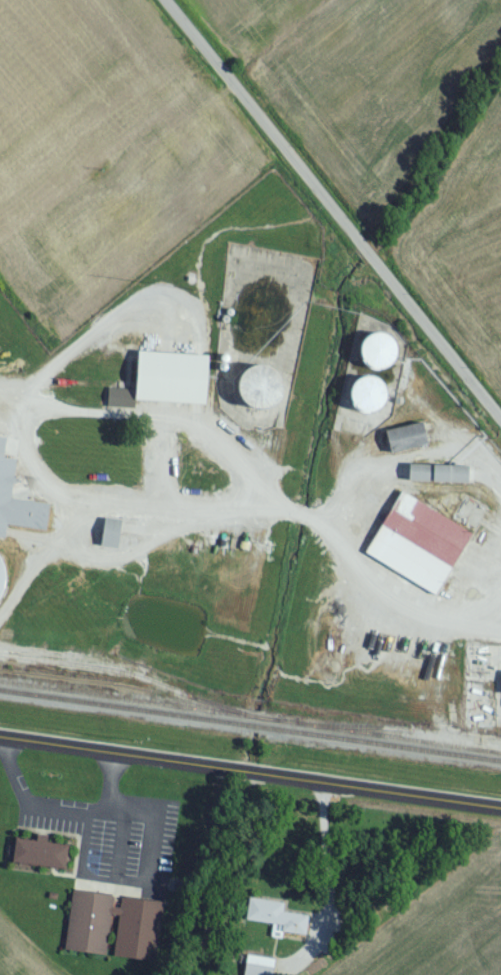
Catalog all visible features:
road: (334, 214)
building: (381, 357)
building: (175, 384)
building: (263, 393)
building: (375, 399)
building: (412, 444)
road: (491, 463)
road: (321, 529)
building: (116, 540)
building: (426, 545)
road: (495, 616)
building: (482, 692)
railway: (250, 734)
road: (250, 779)
road: (61, 810)
road: (326, 858)
building: (43, 860)
building: (275, 923)
building: (115, 933)
building: (257, 969)

